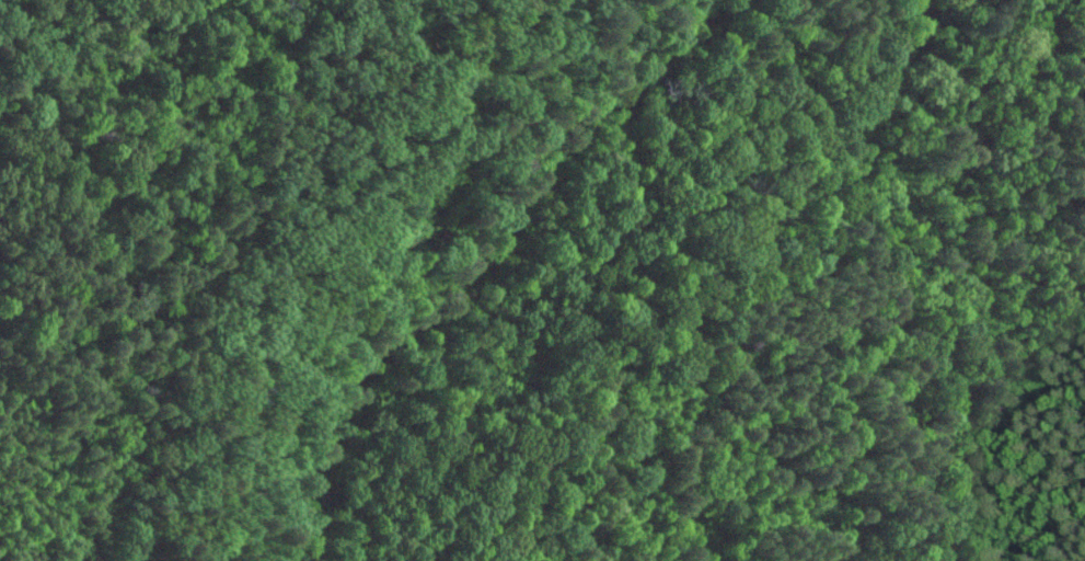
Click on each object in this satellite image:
road: (1080, 56)
road: (204, 277)

